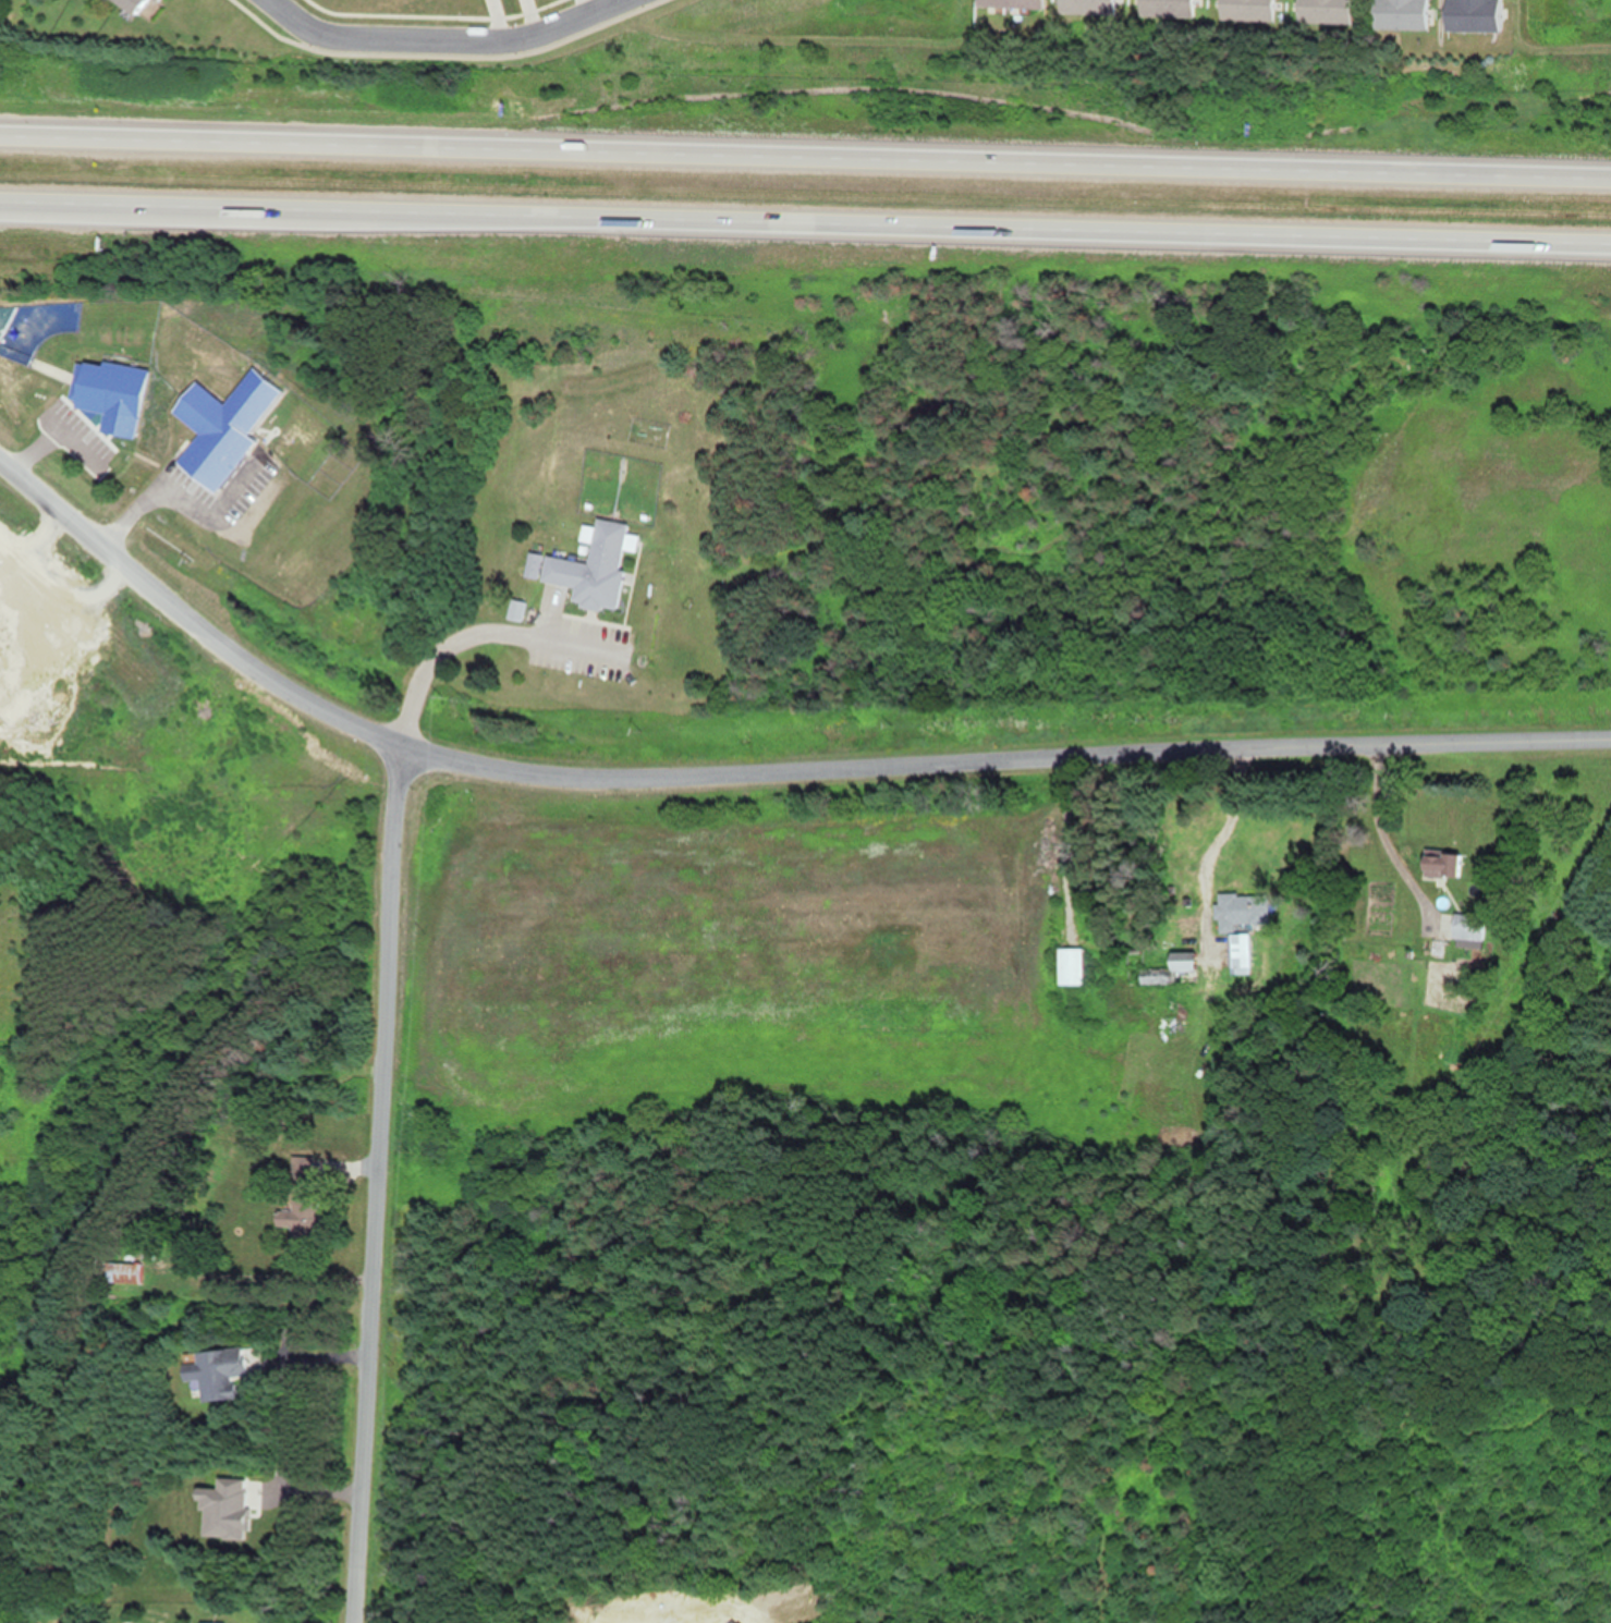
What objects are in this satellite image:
building: (1010, 3)
building: (133, 5)
building: (1085, 5)
building: (1164, 8)
building: (1244, 10)
building: (1322, 11)
building: (1398, 14)
building: (1467, 15)
road: (442, 38)
park: (769, 40)
park: (1559, 45)
road: (805, 149)
building: (883, 154)
road: (805, 224)
building: (220, 426)
road: (171, 495)
building: (593, 564)
road: (474, 630)
road: (757, 770)
building: (1440, 864)
building: (1240, 910)
building: (1465, 926)
crop: (769, 944)
building: (1237, 953)
building: (1069, 965)
building: (1169, 973)
building: (300, 1168)
road: (375, 1183)
building: (295, 1216)
building: (120, 1271)
building: (213, 1370)

